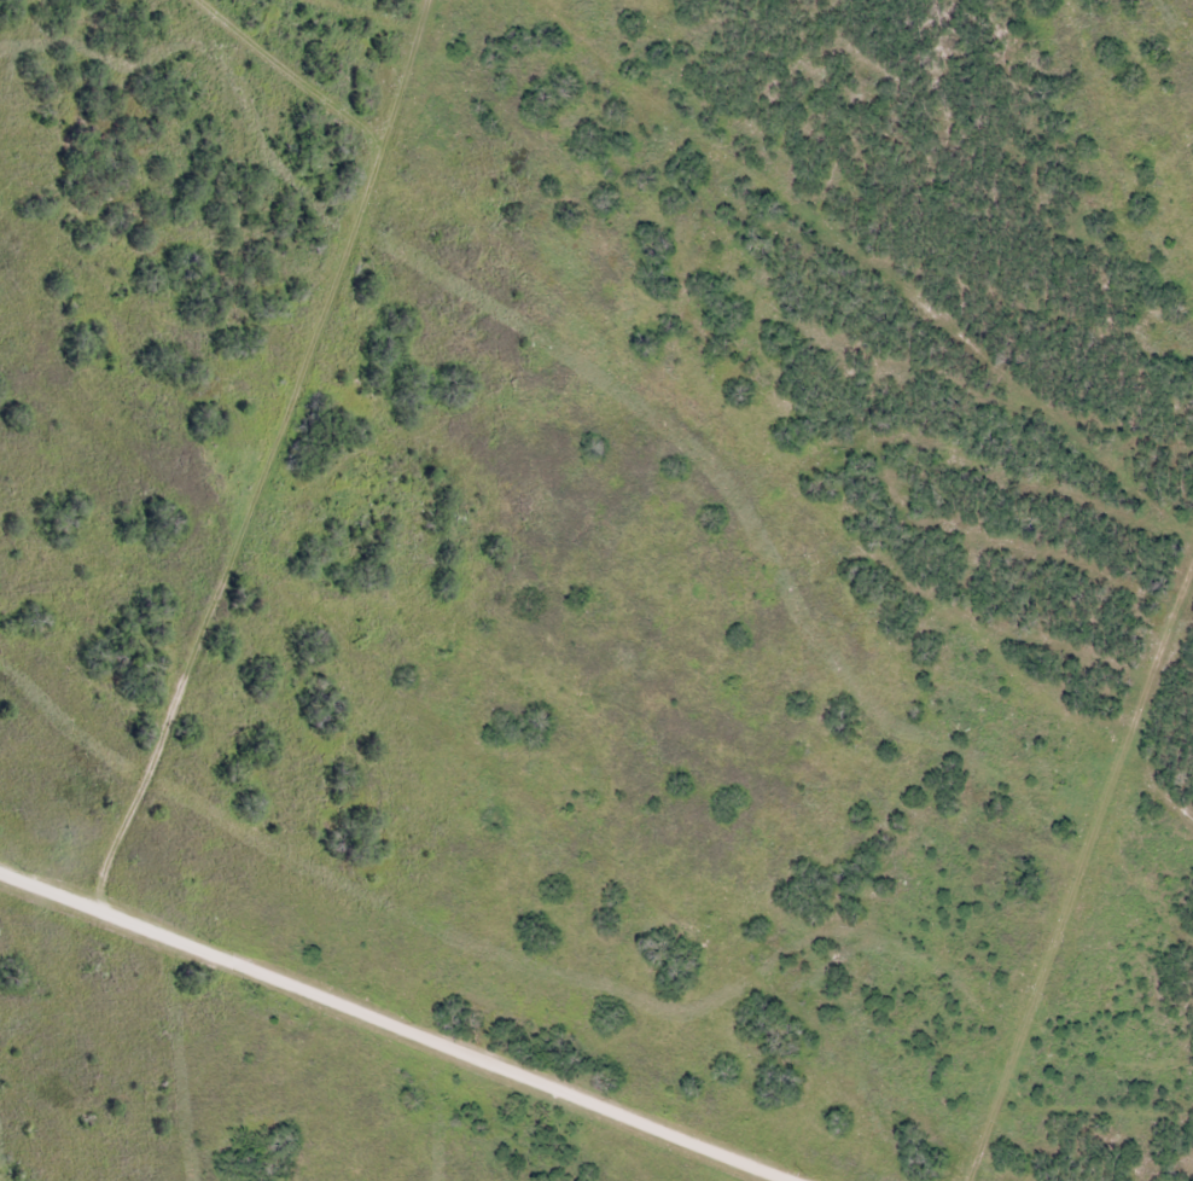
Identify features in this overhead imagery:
road: (239, 543)
road: (394, 1025)

